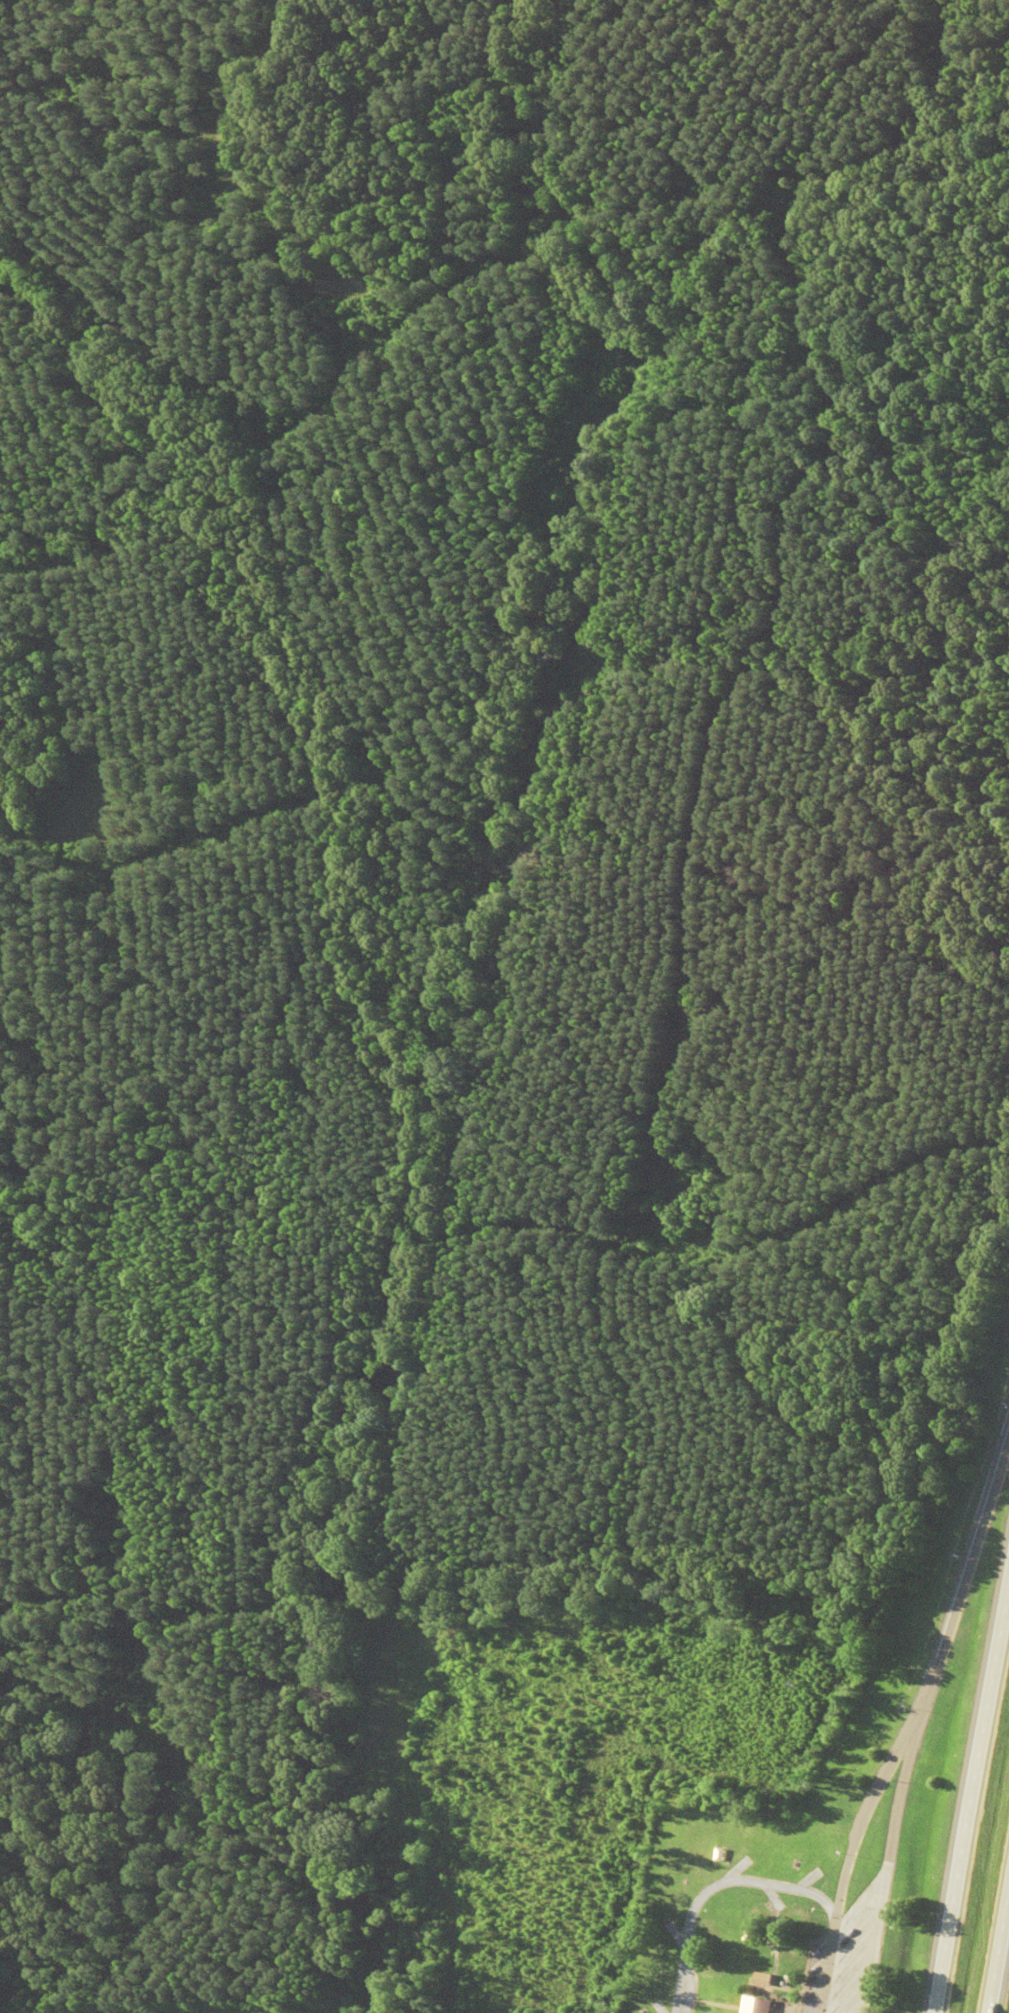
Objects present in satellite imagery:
road: (900, 1717)
road: (964, 1772)
road: (995, 1934)
building: (753, 2005)

